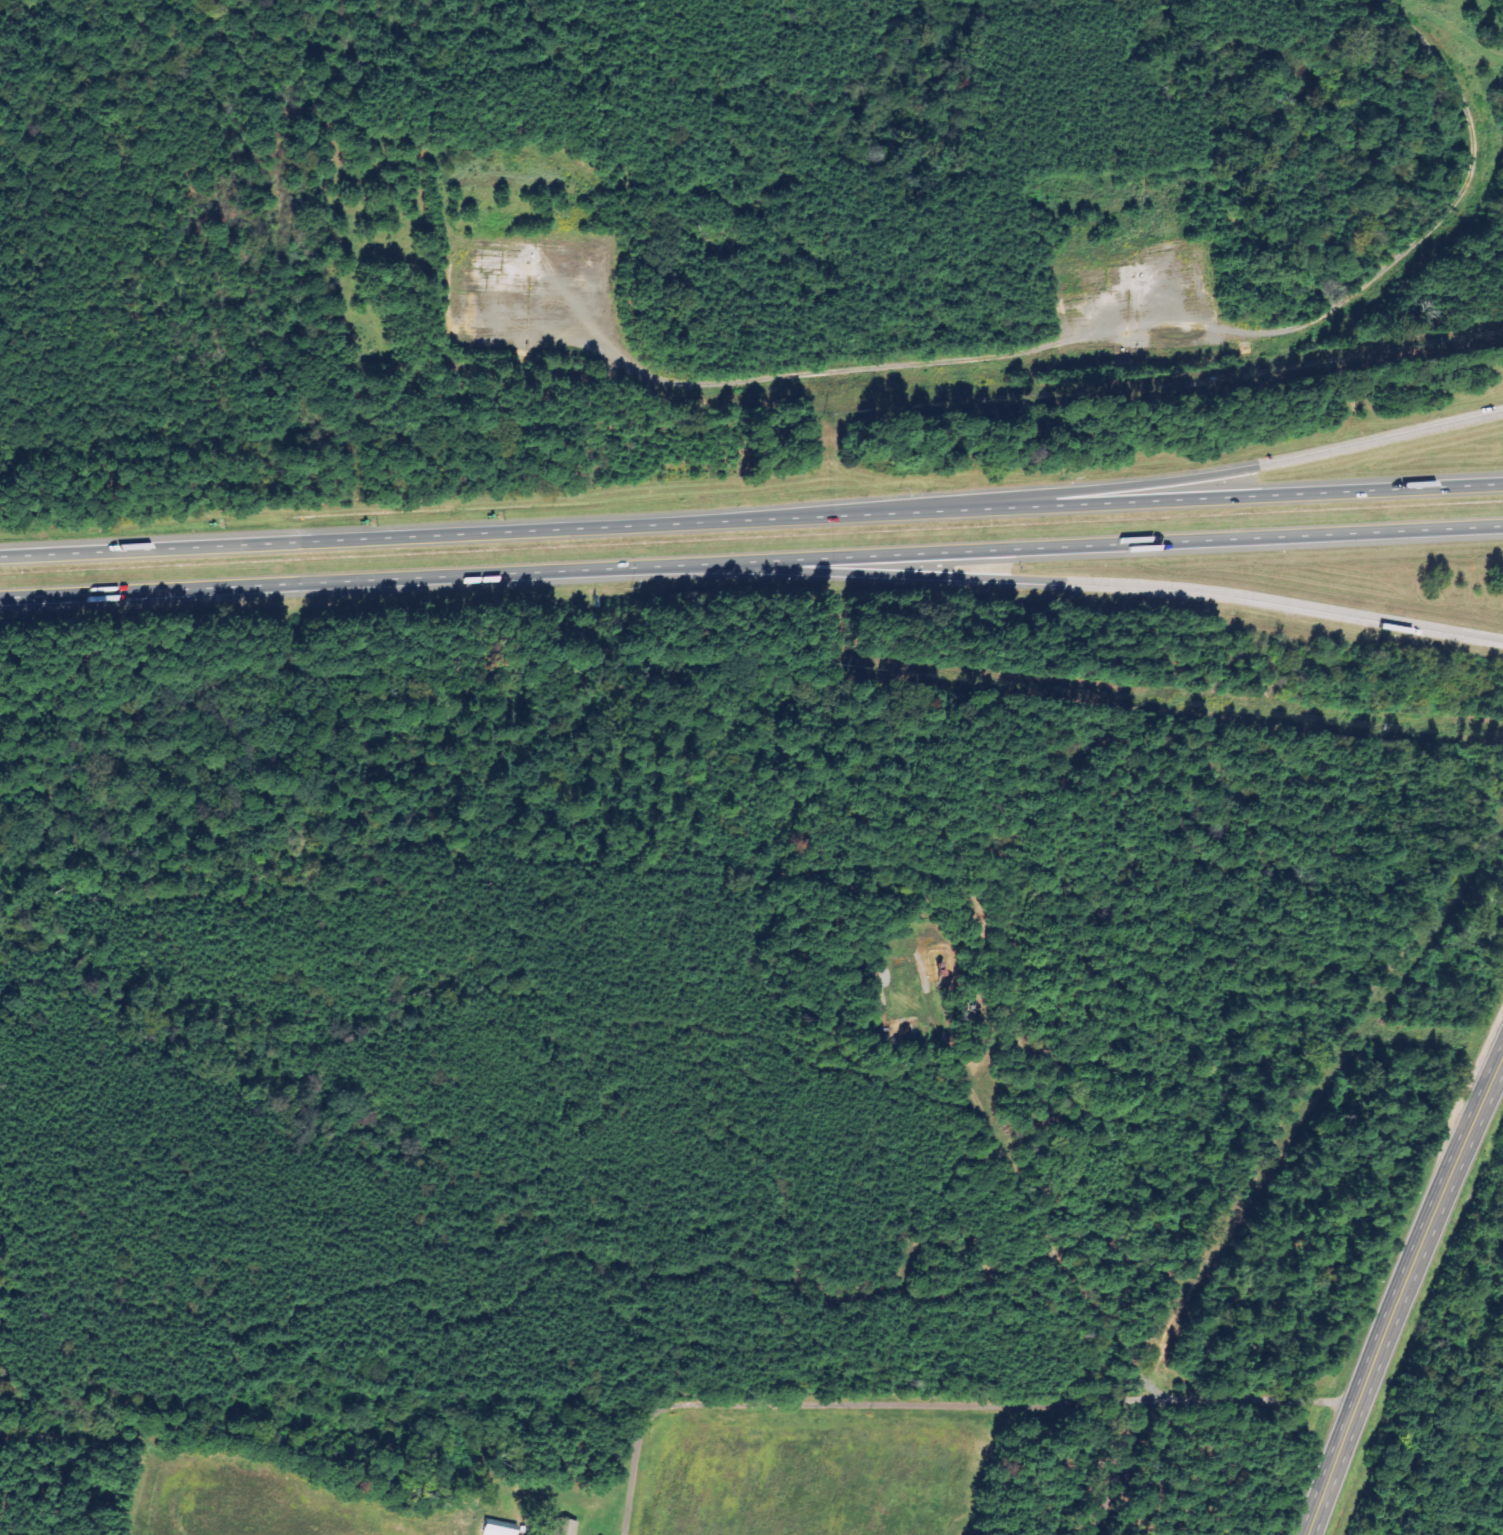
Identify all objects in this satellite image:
road: (1481, 37)
road: (1167, 482)
road: (751, 519)
road: (751, 559)
road: (1074, 580)
road: (1401, 1292)
building: (562, 1527)
building: (497, 1528)

